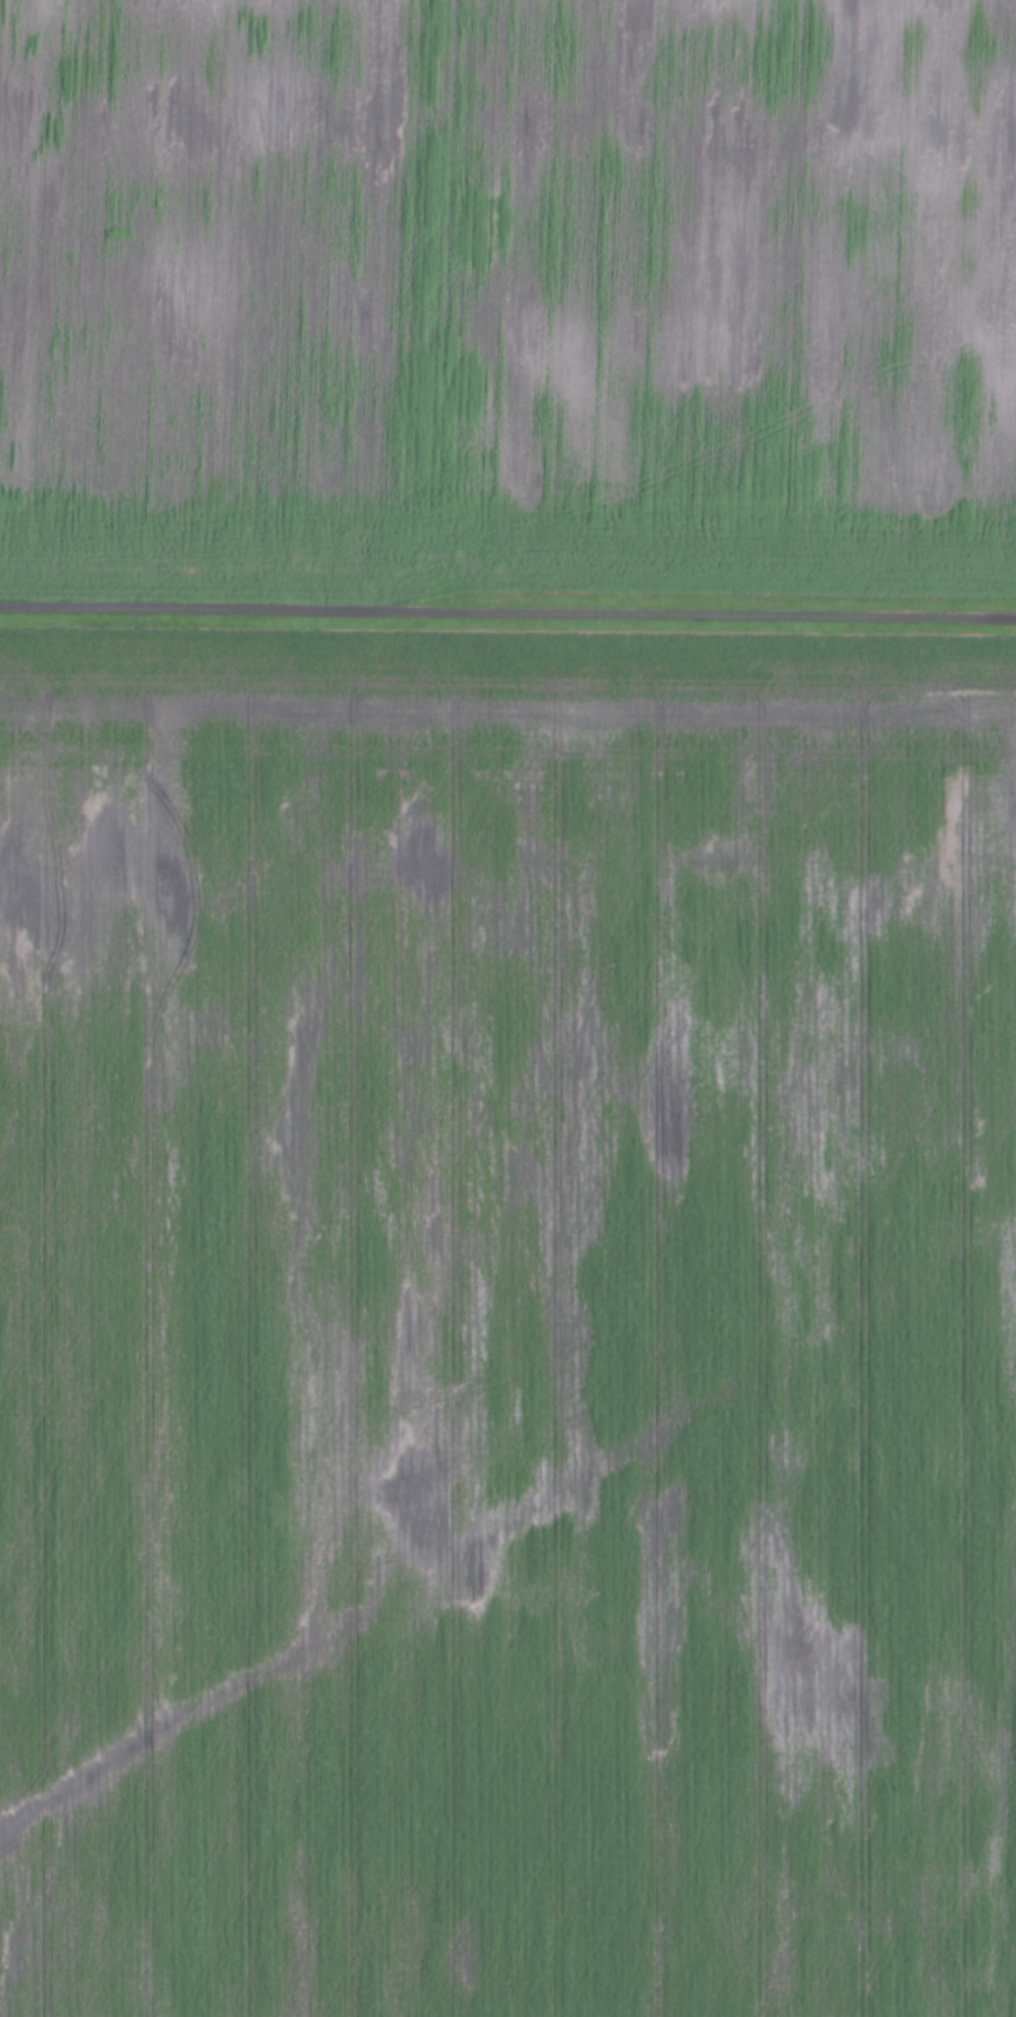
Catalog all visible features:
road: (508, 613)

